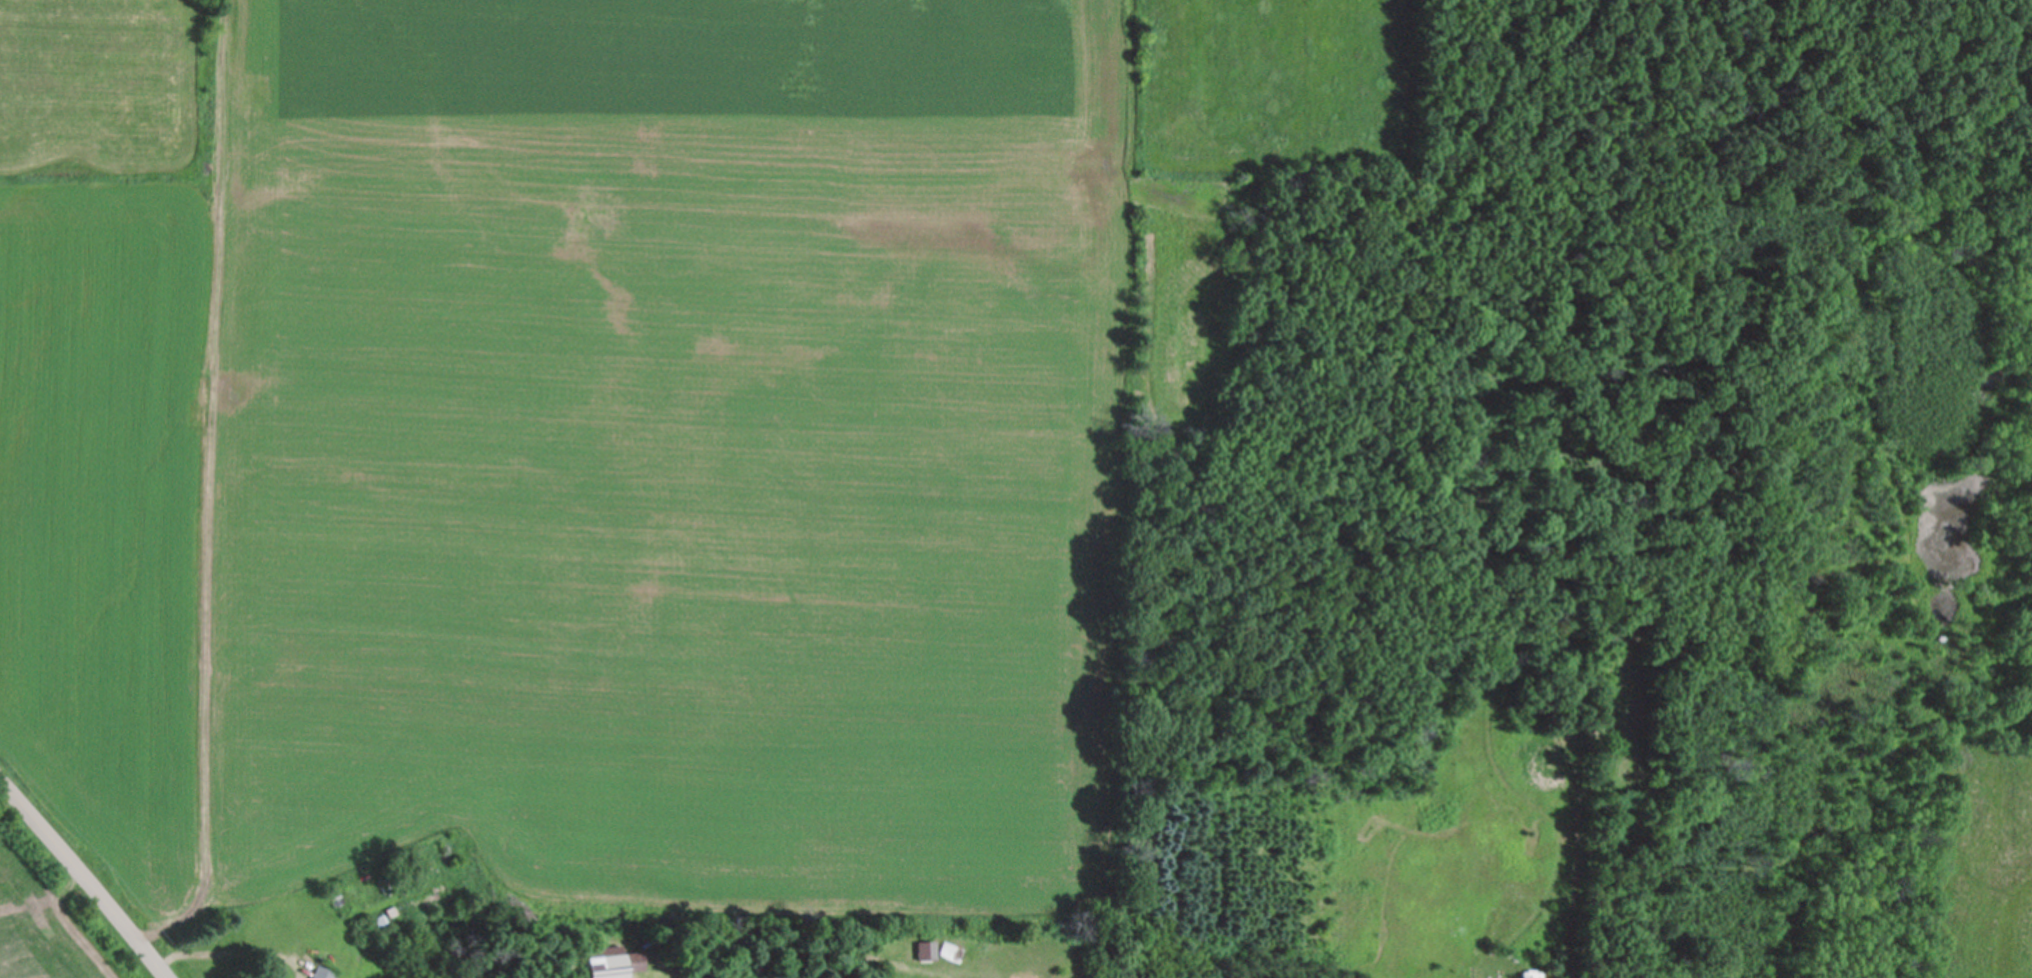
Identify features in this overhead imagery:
road: (80, 883)
building: (949, 950)
building: (612, 964)
building: (669, 969)
building: (321, 973)

